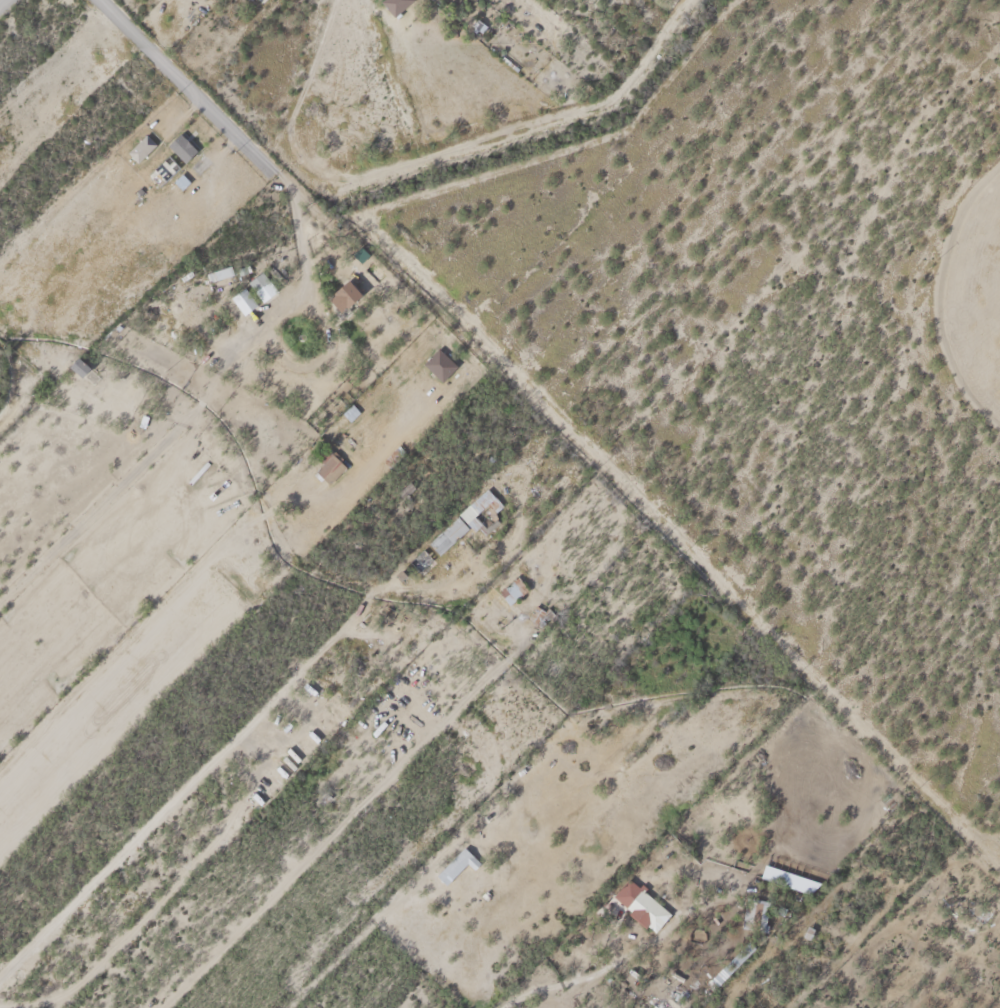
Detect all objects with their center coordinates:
road: (2, 2)
road: (194, 93)
building: (138, 144)
building: (178, 144)
building: (194, 162)
building: (259, 282)
building: (341, 292)
building: (241, 297)
building: (76, 362)
building: (390, 453)
building: (325, 461)
building: (479, 507)
building: (445, 531)
building: (418, 556)
building: (509, 586)
road: (332, 834)
building: (453, 866)
building: (786, 875)
building: (642, 905)
road: (383, 907)
building: (722, 967)
road: (527, 988)

